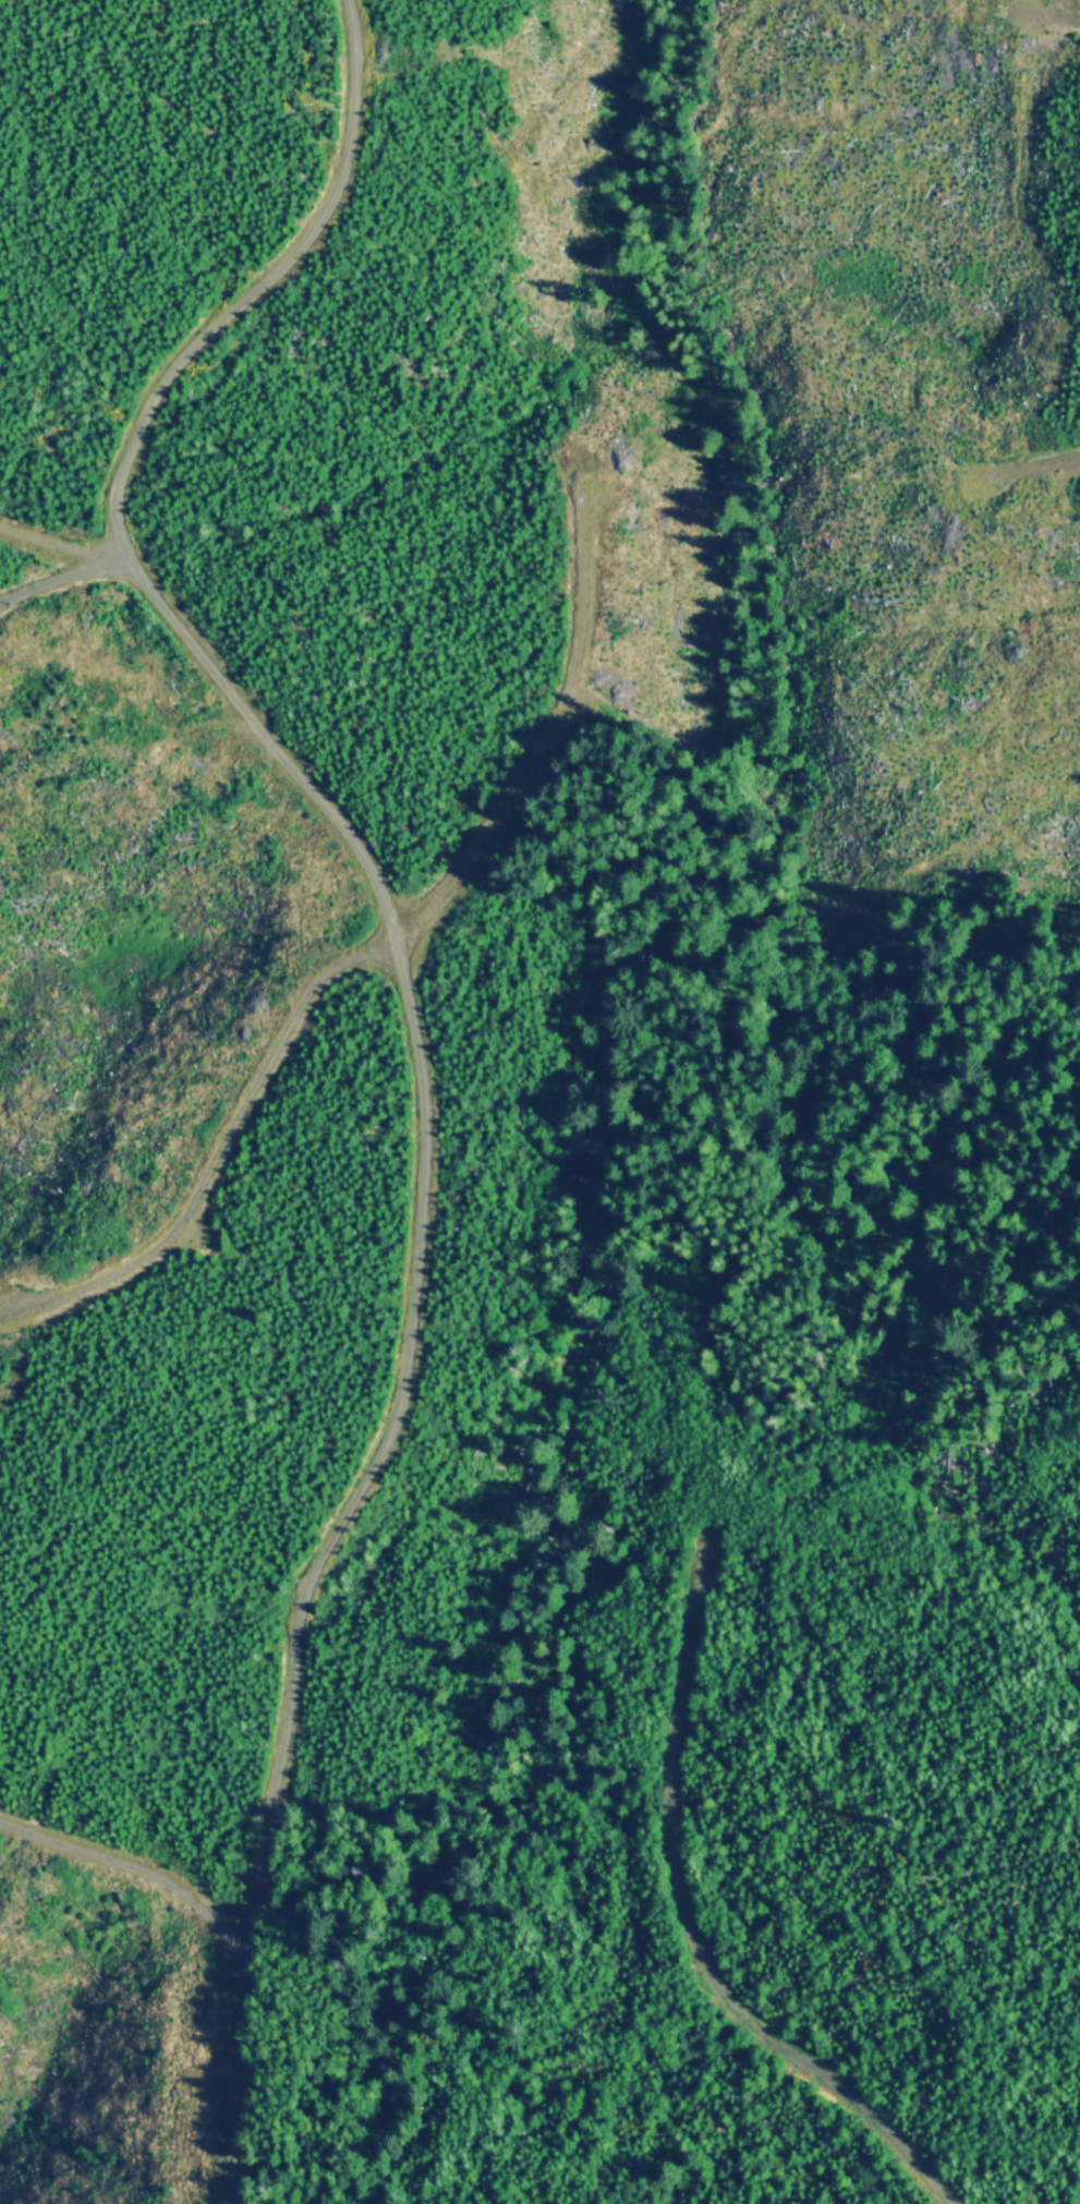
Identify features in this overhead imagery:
road: (411, 1012)
road: (134, 1828)
road: (693, 1962)

